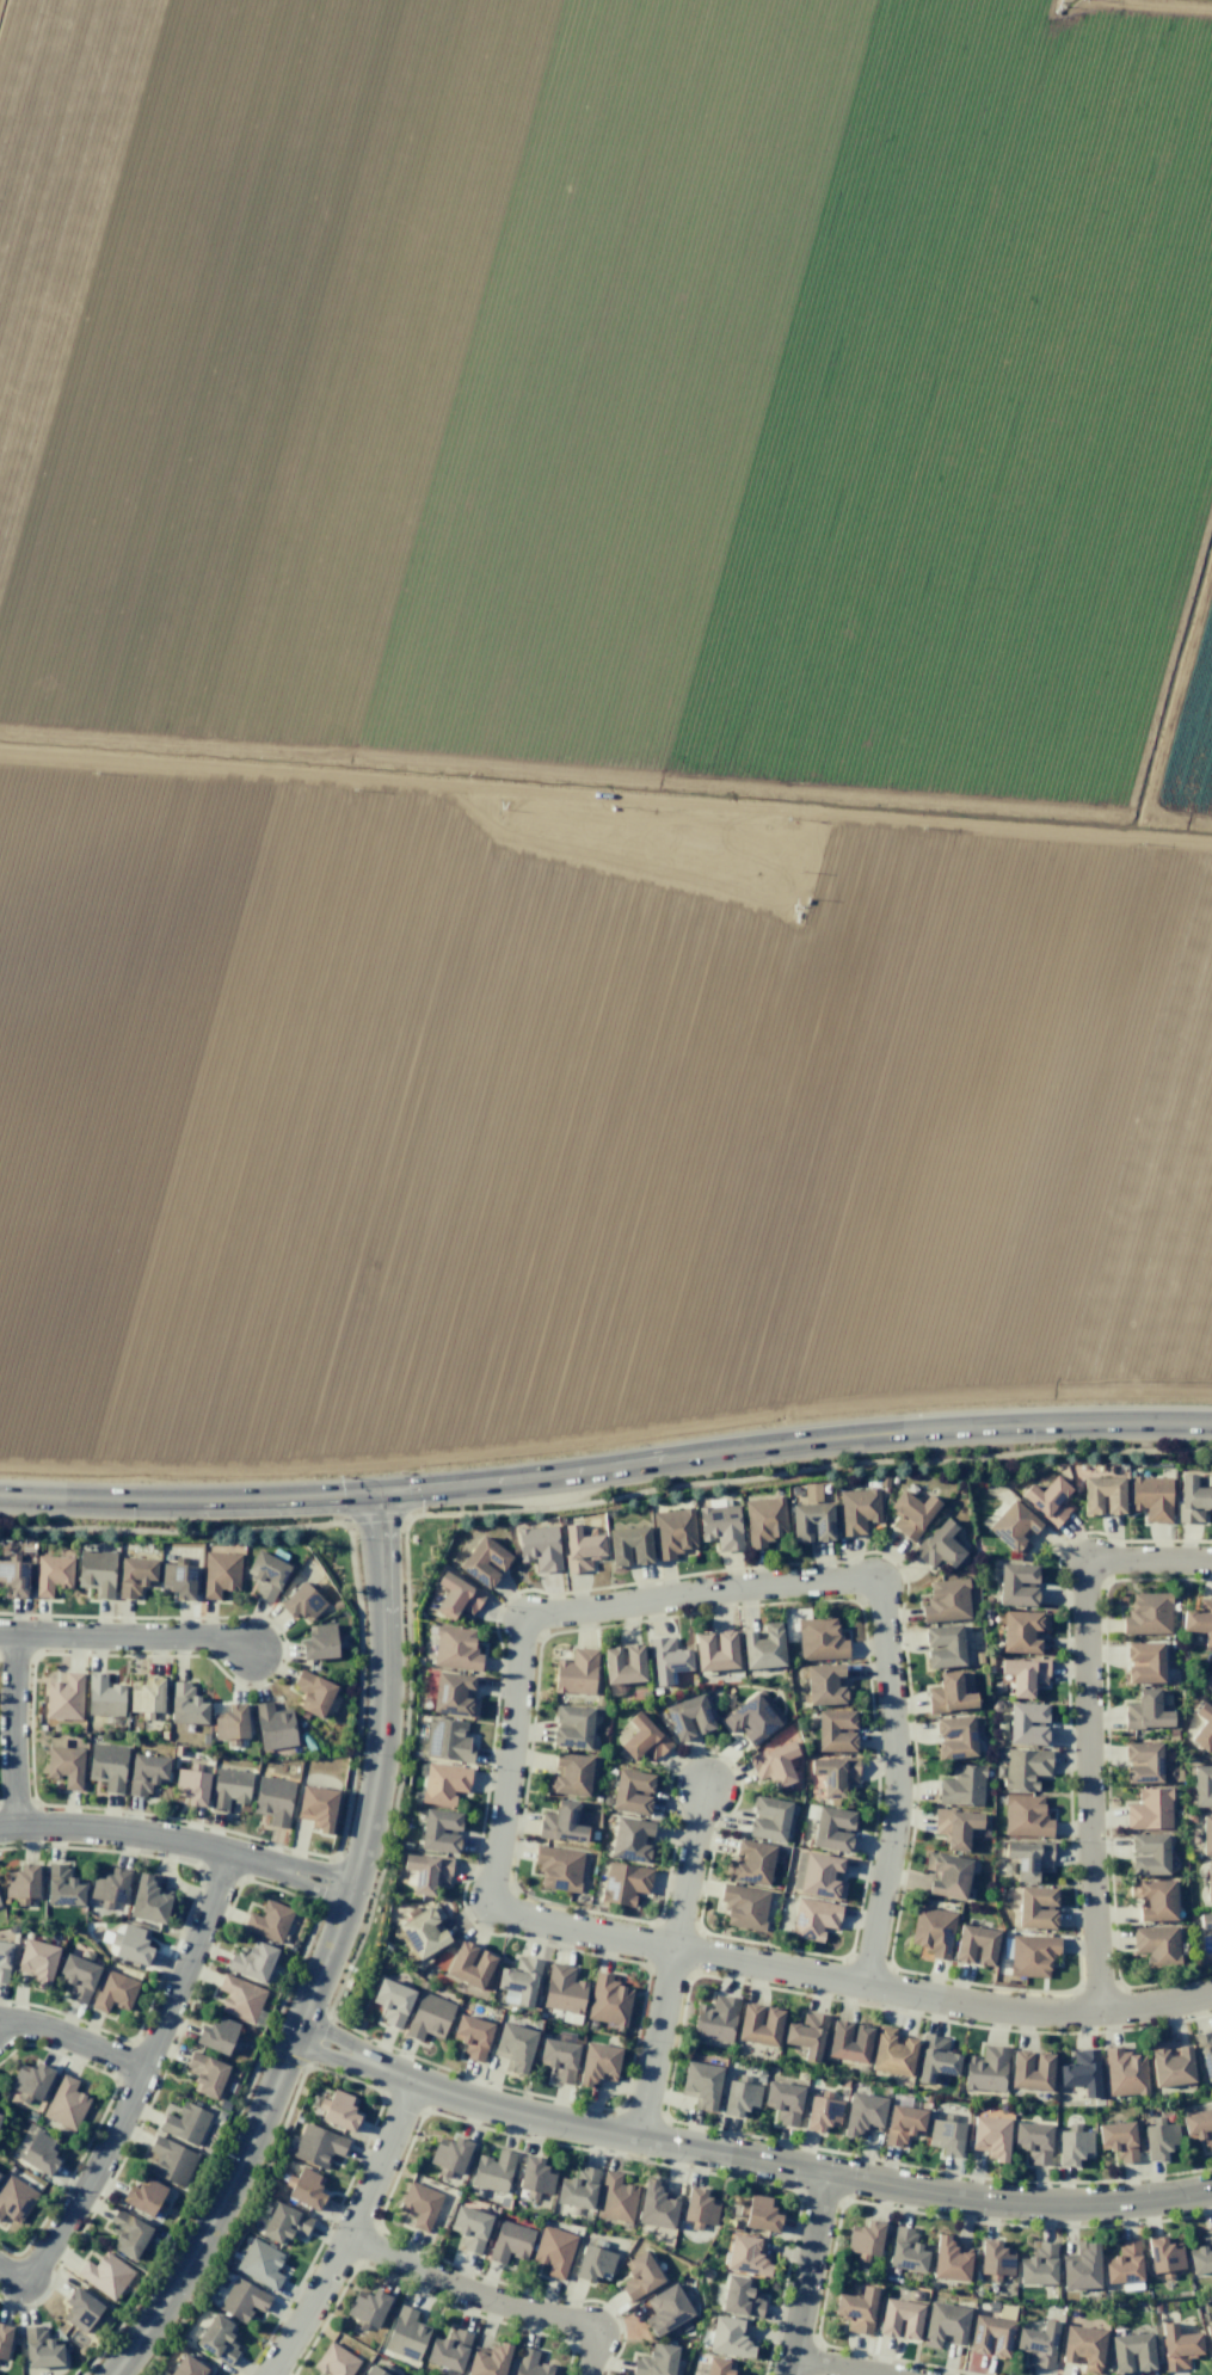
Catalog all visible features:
crop: (601, 710)
road: (605, 1469)
building: (1102, 1495)
traffic signals: (377, 1497)
building: (1151, 1497)
building: (1192, 1499)
building: (1047, 1501)
building: (857, 1510)
building: (911, 1513)
building: (763, 1520)
building: (811, 1522)
building: (720, 1526)
building: (1013, 1527)
building: (672, 1532)
building: (628, 1545)
building: (939, 1546)
building: (539, 1548)
building: (580, 1548)
building: (484, 1562)
building: (96, 1571)
building: (51, 1574)
building: (220, 1574)
building: (266, 1575)
building: (135, 1576)
building: (14, 1577)
building: (178, 1579)
building: (1016, 1585)
road: (758, 1586)
building: (456, 1596)
building: (946, 1600)
building: (302, 1602)
building: (1146, 1614)
building: (1199, 1620)
building: (1022, 1631)
road: (122, 1633)
building: (819, 1639)
building: (321, 1642)
building: (943, 1645)
building: (763, 1647)
building: (455, 1649)
building: (714, 1650)
building: (666, 1660)
building: (1143, 1662)
building: (623, 1663)
building: (576, 1672)
building: (1025, 1674)
building: (824, 1685)
building: (313, 1693)
building: (454, 1694)
building: (949, 1694)
building: (104, 1696)
building: (146, 1696)
building: (63, 1698)
building: (185, 1705)
building: (1146, 1711)
building: (688, 1717)
building: (753, 1717)
building: (230, 1723)
road: (1087, 1723)
building: (1027, 1724)
road: (11, 1727)
building: (273, 1727)
building: (571, 1727)
building: (1202, 1727)
building: (835, 1730)
building: (954, 1736)
building: (642, 1739)
building: (447, 1740)
building: (64, 1762)
building: (1142, 1762)
building: (774, 1764)
building: (107, 1766)
building: (1025, 1768)
building: (146, 1773)
building: (833, 1774)
building: (568, 1776)
building: (443, 1783)
building: (191, 1785)
building: (961, 1785)
building: (1201, 1786)
building: (229, 1789)
building: (632, 1791)
building: (273, 1799)
building: (316, 1807)
building: (1149, 1809)
building: (1025, 1816)
building: (768, 1819)
building: (561, 1823)
building: (955, 1827)
building: (832, 1828)
building: (439, 1831)
building: (1206, 1835)
road: (179, 1838)
building: (633, 1841)
building: (1148, 1853)
building: (1028, 1858)
building: (750, 1863)
road: (687, 1868)
building: (559, 1869)
building: (427, 1872)
building: (947, 1875)
building: (822, 1876)
building: (1208, 1881)
building: (21, 1882)
building: (623, 1883)
building: (109, 1885)
building: (62, 1887)
building: (1155, 1899)
building: (148, 1900)
building: (744, 1906)
building: (1035, 1907)
building: (813, 1919)
building: (1205, 1920)
building: (267, 1921)
building: (933, 1931)
building: (423, 1933)
building: (133, 1945)
building: (974, 1945)
building: (1157, 1945)
building: (1032, 1955)
road: (326, 1957)
building: (4, 1959)
building: (252, 1961)
building: (37, 1962)
building: (469, 1965)
building: (78, 1977)
building: (519, 1980)
road: (849, 1980)
building: (562, 1989)
building: (113, 1992)
building: (239, 1999)
building: (608, 2000)
building: (392, 2001)
building: (429, 2017)
building: (715, 2019)
building: (758, 2024)
building: (806, 2035)
building: (219, 2036)
building: (472, 2036)
road: (72, 2038)
building: (848, 2041)
road: (654, 2043)
building: (513, 2047)
building: (892, 2053)
building: (1205, 2053)
building: (558, 2059)
building: (935, 2059)
building: (598, 2063)
building: (1169, 2065)
building: (985, 2069)
building: (1030, 2071)
building: (1081, 2072)
building: (1124, 2072)
building: (205, 2074)
building: (30, 2081)
road: (134, 2084)
building: (701, 2084)
building: (739, 2097)
building: (783, 2102)
building: (66, 2103)
building: (339, 2110)
building: (822, 2113)
building: (862, 2115)
building: (186, 2124)
building: (903, 2124)
building: (1198, 2127)
building: (946, 2135)
building: (990, 2136)
building: (1118, 2140)
building: (1158, 2140)
building: (1033, 2141)
building: (1072, 2145)
building: (316, 2146)
building: (37, 2151)
building: (450, 2155)
road: (746, 2158)
building: (170, 2160)
building: (492, 2171)
building: (535, 2176)
building: (306, 2189)
building: (578, 2189)
building: (144, 2196)
building: (14, 2198)
building: (615, 2198)
building: (419, 2204)
building: (656, 2205)
building: (699, 2207)
building: (759, 2214)
building: (284, 2223)
building: (469, 2227)
road: (351, 2233)
building: (128, 2234)
building: (865, 2238)
building: (510, 2241)
building: (553, 2251)
building: (905, 2251)
building: (1201, 2254)
building: (746, 2256)
building: (1163, 2256)
building: (995, 2258)
building: (949, 2259)
building: (1124, 2263)
building: (260, 2264)
building: (593, 2264)
building: (1038, 2266)
building: (1081, 2268)
road: (806, 2274)
building: (105, 2275)
building: (639, 2276)
road: (490, 2296)
building: (740, 2297)
building: (242, 2300)
building: (368, 2307)
building: (80, 2309)
building: (666, 2309)
building: (855, 2309)
building: (899, 2319)
building: (943, 2325)
building: (406, 2333)
building: (1208, 2336)
building: (990, 2337)
building: (730, 2338)
building: (217, 2339)
building: (4, 2340)
building: (1038, 2344)
building: (1177, 2346)
building: (1083, 2348)
building: (41, 2349)
building: (448, 2350)
building: (1131, 2352)
building: (488, 2359)
building: (334, 2361)
building: (656, 2361)
building: (529, 2363)
road: (832, 2365)
building: (187, 2367)
building: (718, 2367)
building: (371, 2371)

